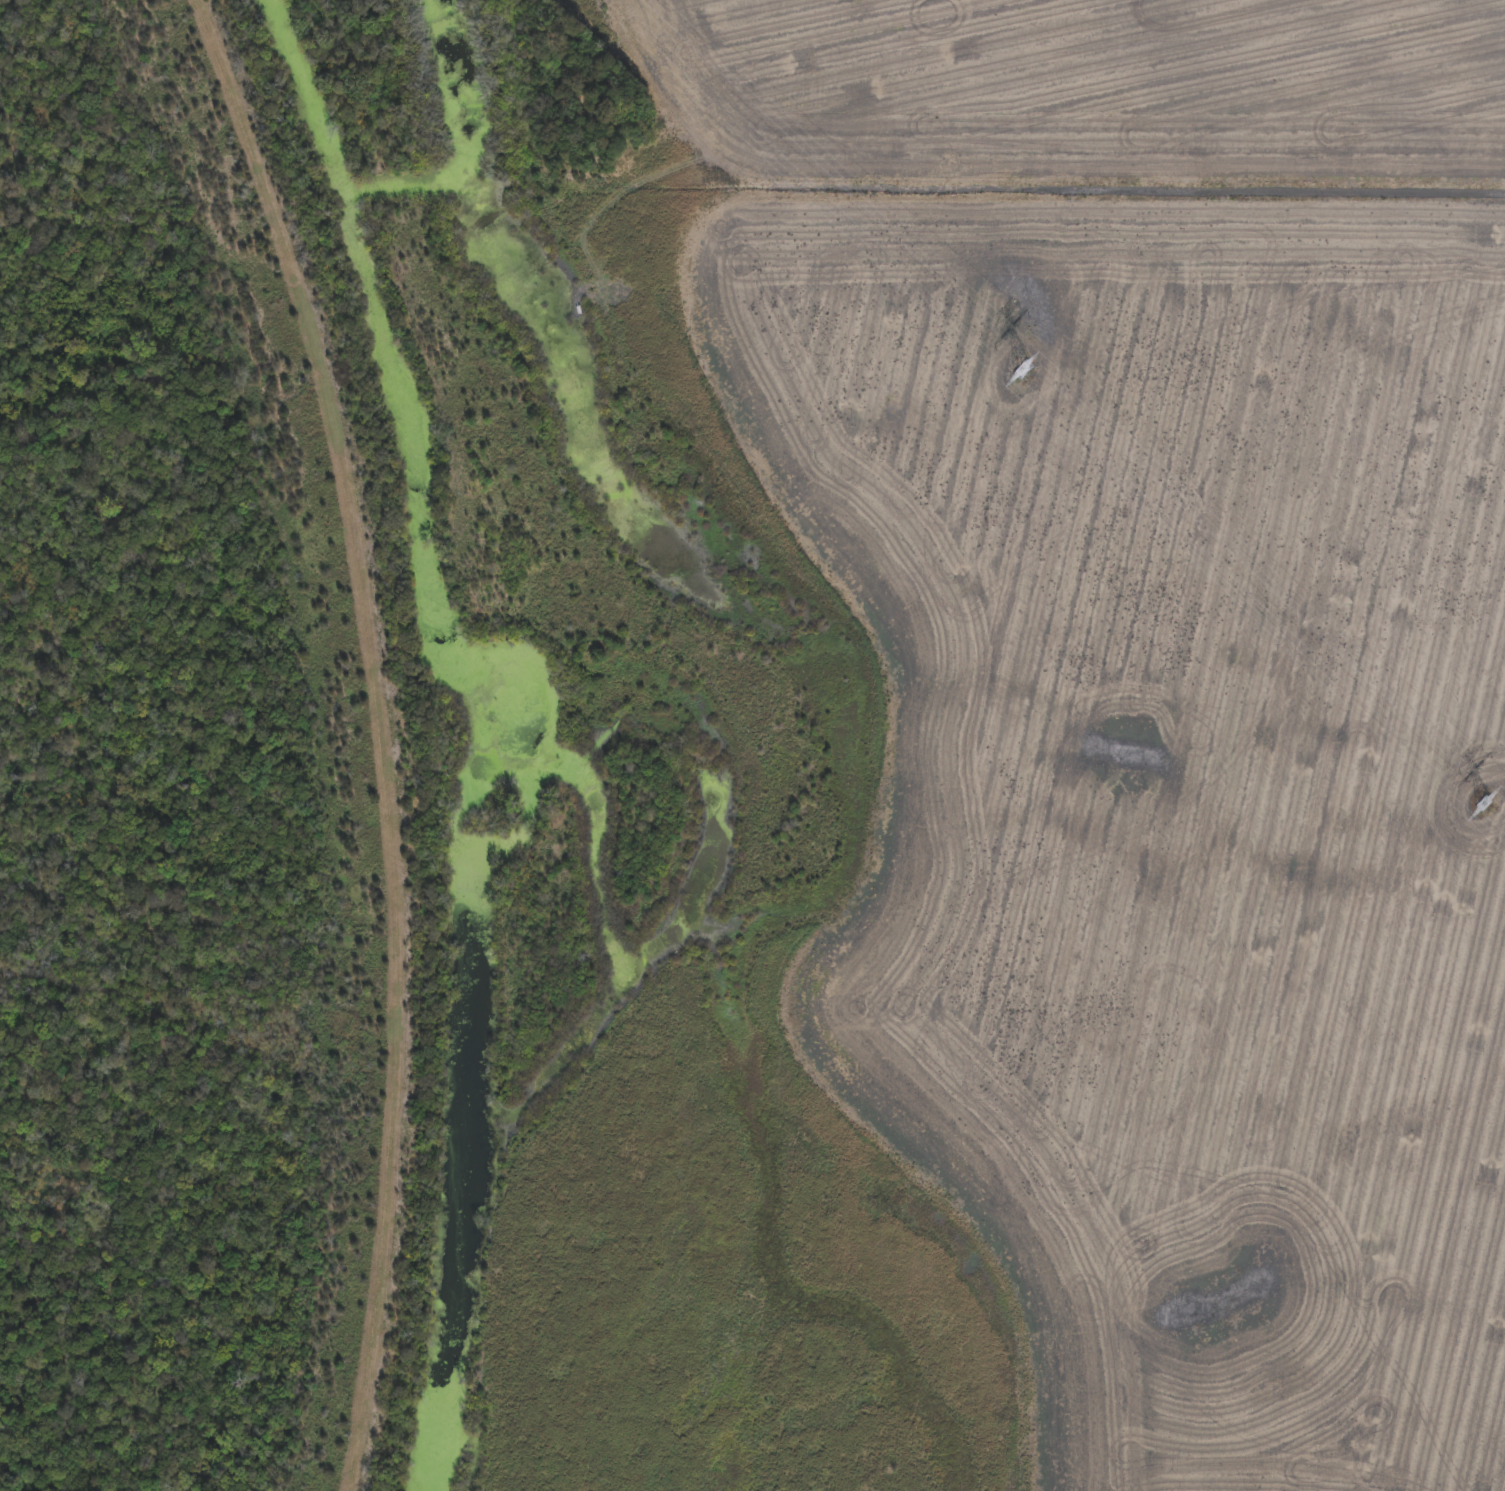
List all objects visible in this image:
power tower: (1026, 363)
power tower: (1492, 803)

